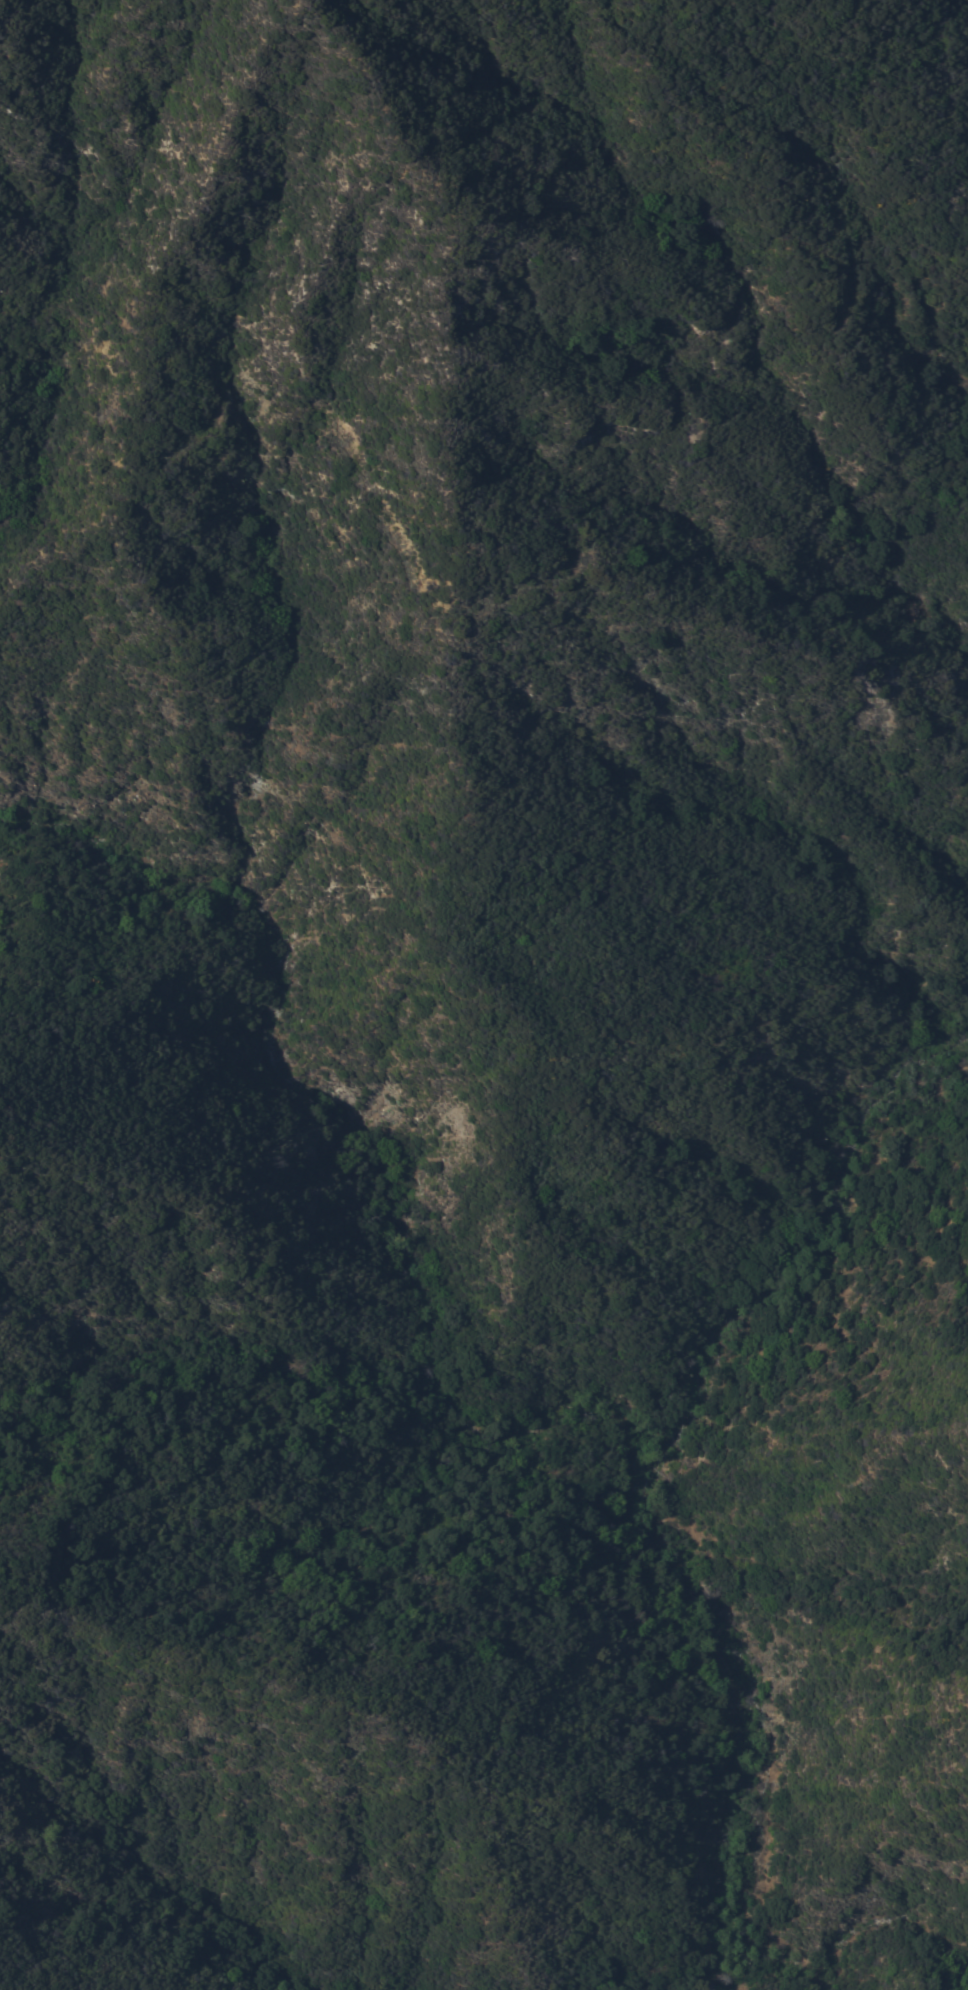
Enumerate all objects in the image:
road: (490, 566)

